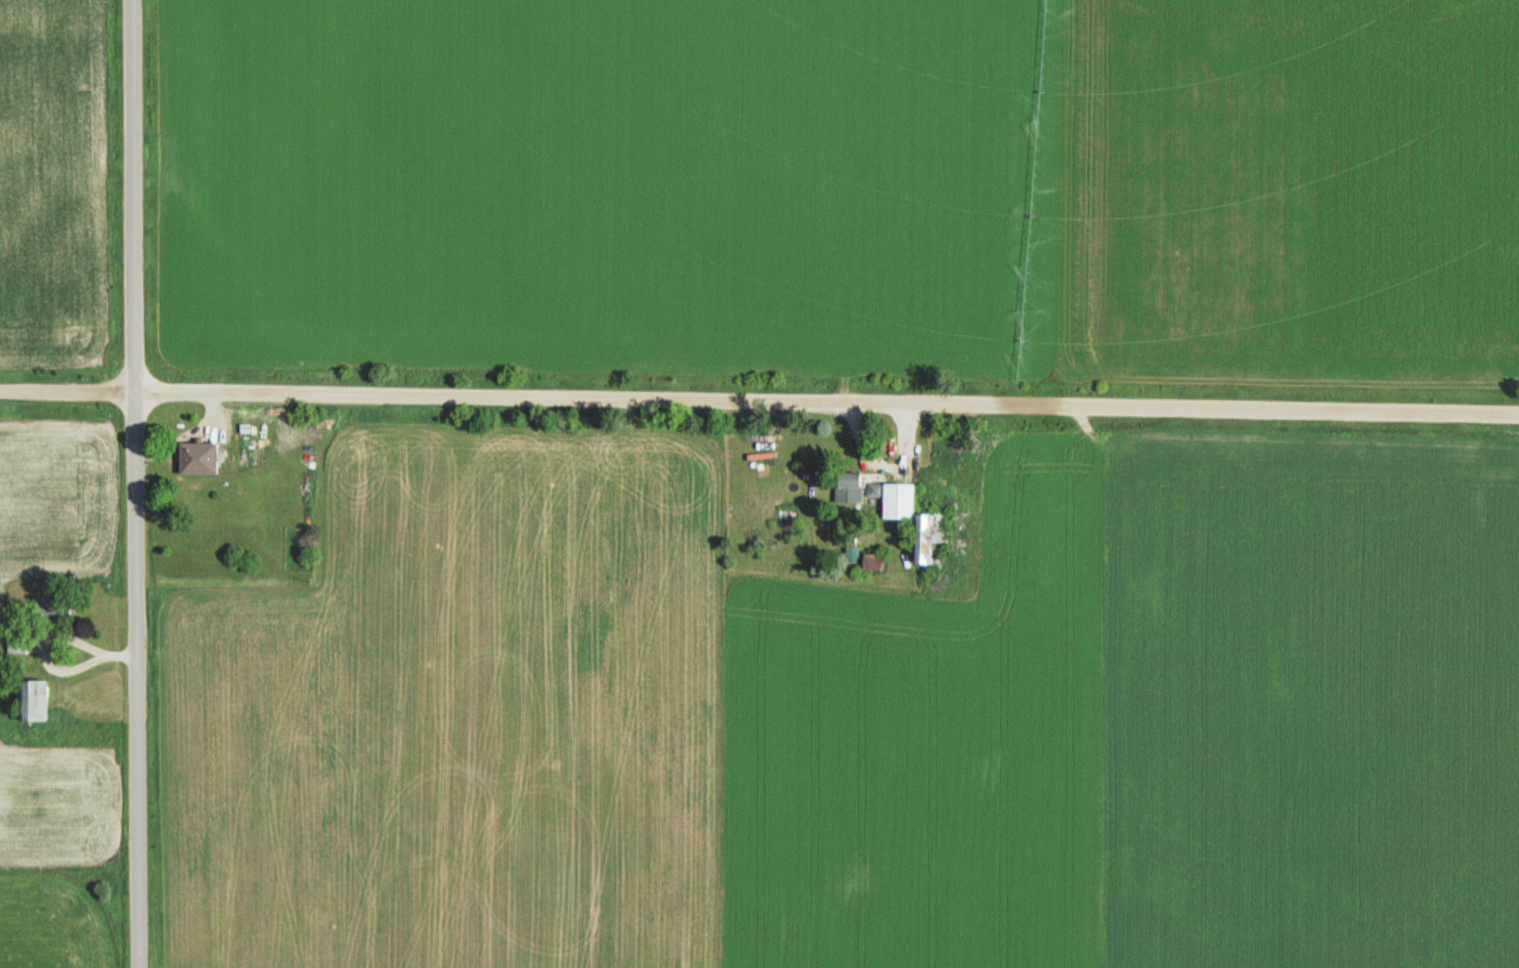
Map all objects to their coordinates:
road: (759, 400)
road: (208, 414)
building: (195, 456)
road: (885, 465)
road: (135, 484)
building: (849, 486)
building: (920, 519)
building: (15, 642)
building: (29, 699)

